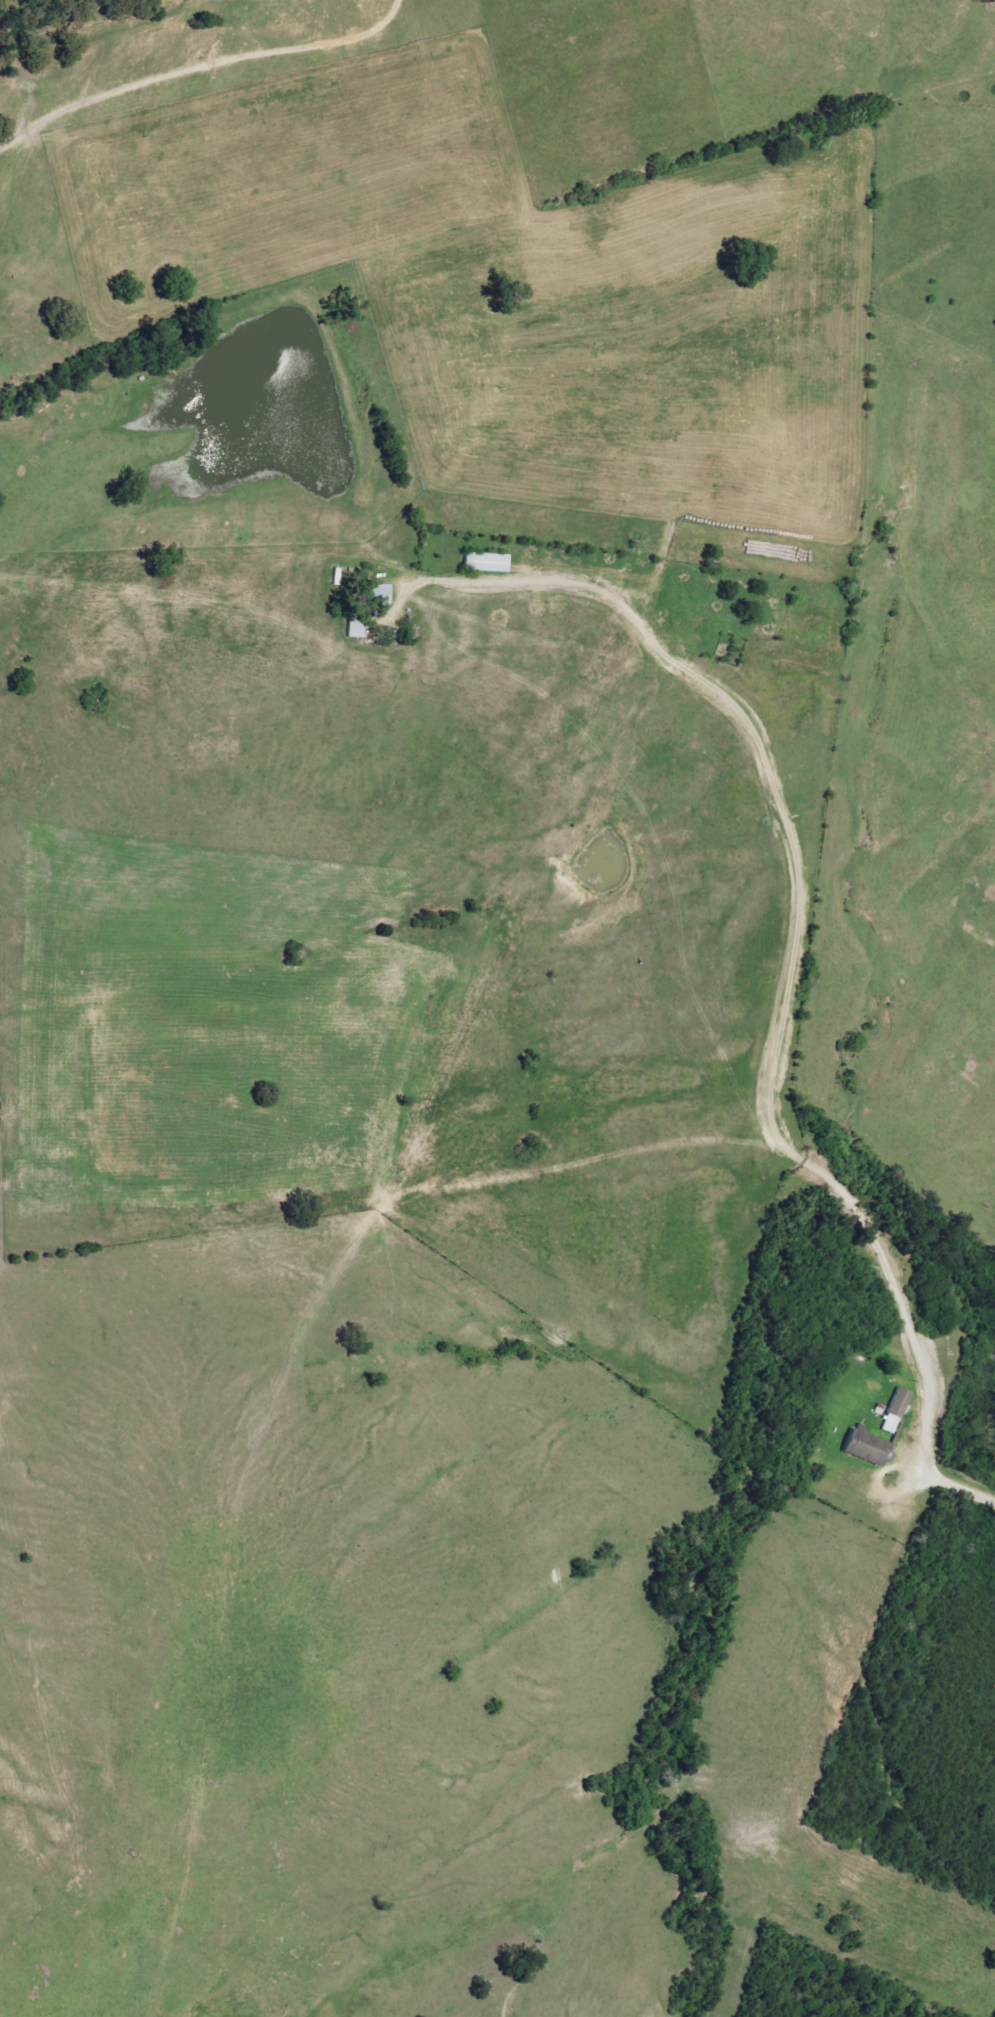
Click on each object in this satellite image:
road: (192, 50)
building: (488, 563)
building: (381, 595)
road: (802, 911)
building: (896, 1410)
building: (869, 1447)
road: (961, 1480)

